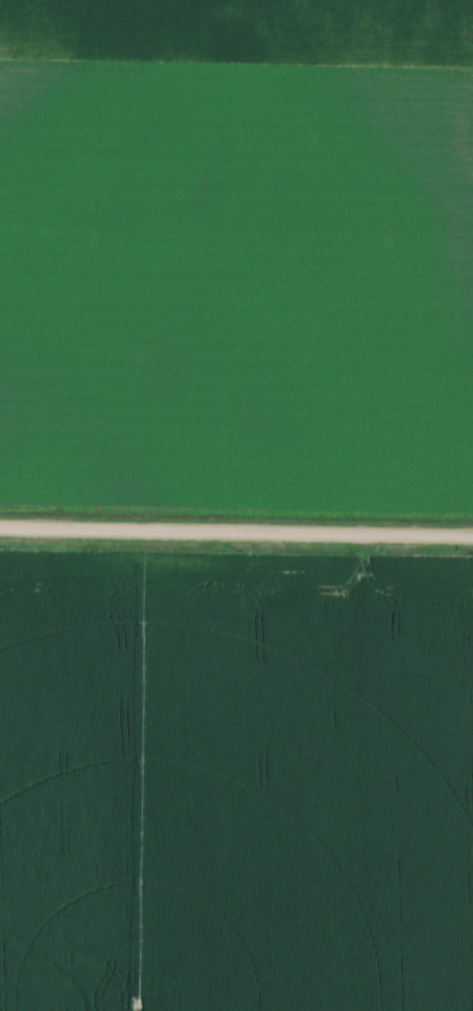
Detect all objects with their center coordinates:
road: (236, 535)

